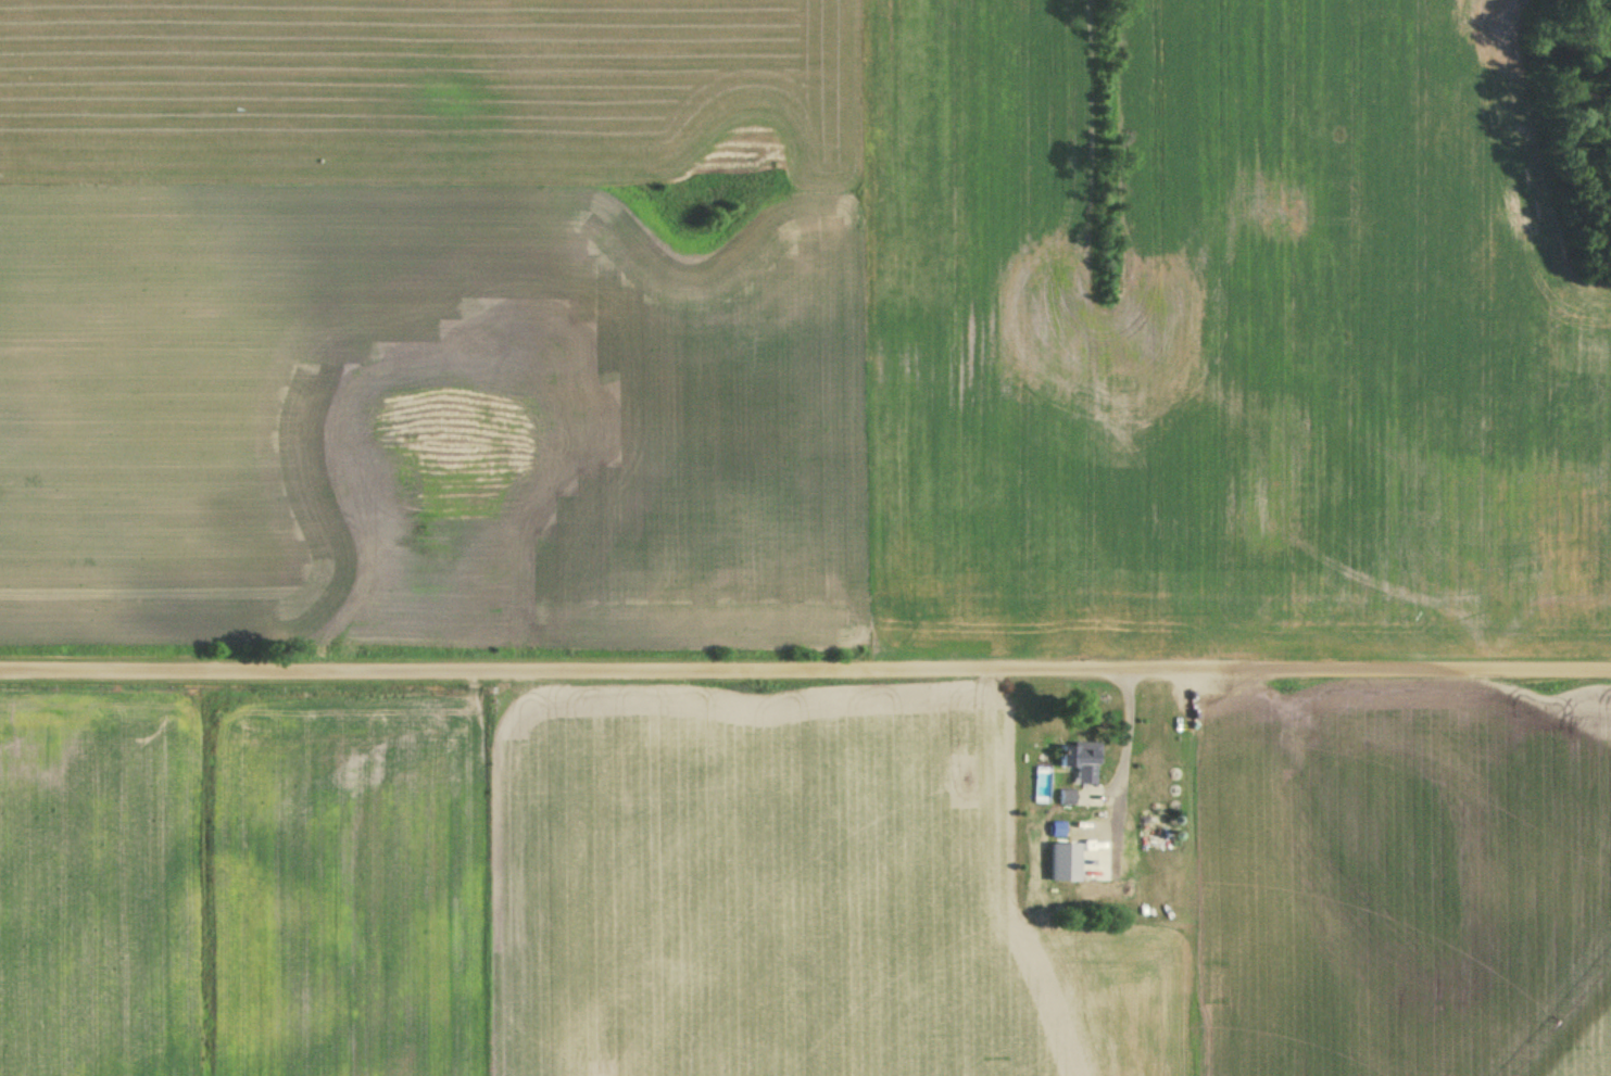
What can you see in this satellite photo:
road: (805, 670)
building: (1079, 761)

